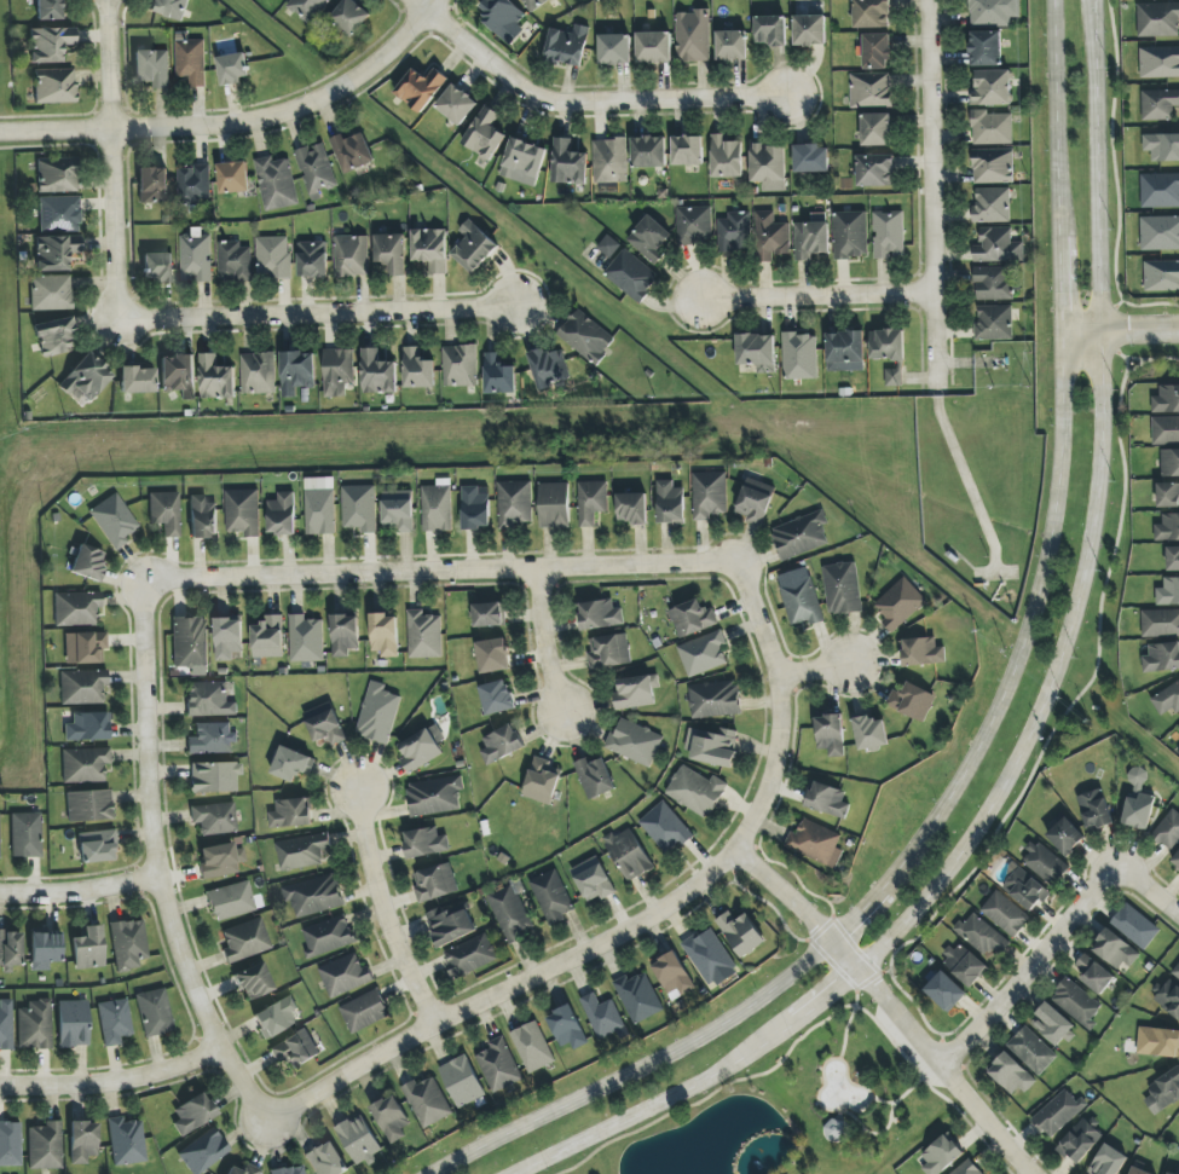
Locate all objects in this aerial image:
building: (534, 4)
building: (169, 8)
building: (307, 8)
building: (48, 10)
building: (993, 11)
building: (872, 13)
building: (351, 16)
building: (503, 19)
building: (1157, 19)
building: (770, 30)
building: (809, 30)
building: (693, 36)
building: (50, 44)
building: (567, 46)
building: (732, 46)
building: (654, 47)
building: (986, 48)
building: (614, 50)
building: (877, 51)
building: (190, 59)
building: (1158, 62)
road: (375, 64)
building: (152, 68)
building: (232, 68)
building: (54, 86)
building: (420, 88)
building: (992, 88)
building: (869, 89)
road: (583, 103)
building: (456, 104)
building: (1158, 104)
road: (150, 127)
building: (992, 128)
building: (877, 129)
building: (485, 134)
building: (1162, 146)
building: (688, 150)
building: (352, 151)
building: (648, 151)
building: (726, 157)
building: (811, 158)
road: (111, 161)
building: (609, 161)
building: (524, 162)
building: (568, 163)
building: (993, 166)
building: (769, 167)
building: (316, 169)
building: (874, 170)
building: (56, 175)
building: (233, 178)
road: (931, 178)
building: (276, 183)
building: (193, 184)
building: (152, 185)
building: (1160, 190)
building: (992, 206)
building: (59, 214)
building: (694, 225)
building: (734, 232)
building: (888, 233)
building: (1160, 233)
building: (850, 235)
building: (770, 236)
building: (811, 237)
building: (649, 239)
building: (474, 247)
building: (608, 247)
building: (998, 247)
building: (430, 248)
building: (54, 253)
building: (392, 253)
building: (195, 256)
building: (352, 256)
building: (273, 258)
building: (313, 259)
building: (235, 261)
building: (157, 267)
building: (631, 276)
building: (1161, 276)
building: (993, 283)
building: (51, 293)
road: (816, 295)
road: (318, 314)
building: (994, 323)
road: (1121, 329)
building: (586, 336)
building: (54, 337)
building: (886, 345)
building: (845, 351)
building: (757, 352)
building: (799, 355)
building: (460, 365)
building: (549, 368)
building: (417, 369)
building: (337, 371)
building: (258, 372)
building: (297, 372)
building: (377, 374)
building: (178, 375)
building: (498, 375)
building: (894, 376)
building: (85, 377)
building: (216, 378)
building: (137, 380)
building: (1166, 400)
building: (1166, 430)
building: (1169, 463)
building: (709, 495)
building: (1168, 496)
building: (591, 502)
building: (753, 502)
building: (515, 503)
building: (670, 503)
building: (554, 505)
building: (320, 507)
building: (438, 507)
building: (359, 508)
building: (632, 508)
building: (475, 509)
building: (164, 511)
building: (242, 511)
building: (398, 511)
building: (282, 514)
building: (202, 517)
building: (112, 520)
building: (1168, 528)
building: (799, 536)
building: (1173, 560)
building: (87, 562)
road: (441, 573)
building: (842, 588)
building: (1168, 592)
building: (802, 602)
building: (898, 605)
building: (76, 608)
building: (490, 614)
building: (600, 614)
building: (693, 618)
building: (1160, 623)
building: (345, 635)
building: (385, 635)
building: (424, 635)
building: (227, 638)
building: (267, 638)
building: (306, 638)
building: (190, 642)
road: (543, 643)
building: (85, 647)
building: (609, 650)
building: (921, 652)
building: (703, 653)
building: (493, 655)
building: (1162, 658)
road: (817, 671)
building: (82, 687)
building: (636, 692)
building: (497, 698)
building: (715, 699)
building: (1167, 699)
building: (209, 700)
building: (912, 701)
road: (780, 706)
road: (1046, 706)
building: (377, 713)
building: (325, 724)
building: (87, 727)
road: (987, 728)
building: (1178, 728)
building: (869, 733)
building: (830, 734)
building: (212, 739)
building: (635, 742)
building: (501, 744)
building: (712, 747)
building: (421, 748)
building: (83, 764)
building: (291, 764)
building: (214, 776)
building: (1137, 776)
building: (595, 777)
building: (542, 781)
building: (695, 791)
building: (434, 796)
building: (827, 799)
building: (88, 805)
building: (1096, 810)
building: (1138, 811)
building: (291, 812)
building: (214, 817)
building: (665, 828)
building: (1168, 829)
building: (25, 834)
building: (1065, 837)
building: (426, 843)
building: (816, 843)
building: (96, 846)
building: (302, 851)
building: (629, 854)
building: (220, 860)
building: (1175, 860)
road: (158, 861)
building: (1044, 863)
building: (593, 879)
building: (435, 883)
building: (1025, 889)
road: (1149, 889)
road: (80, 892)
building: (314, 896)
building: (551, 896)
building: (231, 901)
road: (382, 913)
building: (510, 913)
building: (1005, 914)
building: (450, 925)
building: (1135, 926)
building: (741, 933)
building: (981, 935)
building: (328, 936)
building: (244, 941)
building: (128, 944)
building: (45, 948)
building: (88, 948)
building: (1115, 949)
building: (8, 952)
building: (470, 955)
building: (709, 955)
building: (965, 962)
road: (1028, 967)
building: (1175, 972)
building: (1094, 975)
building: (345, 976)
building: (674, 976)
building: (253, 982)
building: (943, 990)
road: (503, 991)
building: (638, 997)
building: (1169, 997)
building: (1077, 1002)
road: (889, 1007)
building: (154, 1012)
building: (364, 1012)
building: (602, 1016)
building: (276, 1017)
building: (114, 1022)
building: (73, 1023)
building: (6, 1024)
building: (1053, 1024)
building: (35, 1025)
building: (567, 1028)
building: (1157, 1042)
building: (532, 1047)
building: (295, 1049)
building: (1031, 1051)
building: (498, 1065)
building: (1011, 1074)
building: (462, 1081)
road: (111, 1083)
building: (1163, 1091)
building: (427, 1101)
building: (1058, 1112)
building: (192, 1114)
building: (391, 1118)
building: (836, 1130)
building: (359, 1140)
building: (82, 1141)
building: (126, 1141)
building: (1080, 1141)
building: (10, 1144)
building: (45, 1146)
building: (203, 1152)
building: (941, 1155)
building: (326, 1159)
building: (1108, 1161)
building: (250, 1167)
building: (967, 1168)
building: (290, 1170)
building: (1138, 1170)
building: (1169, 1173)

